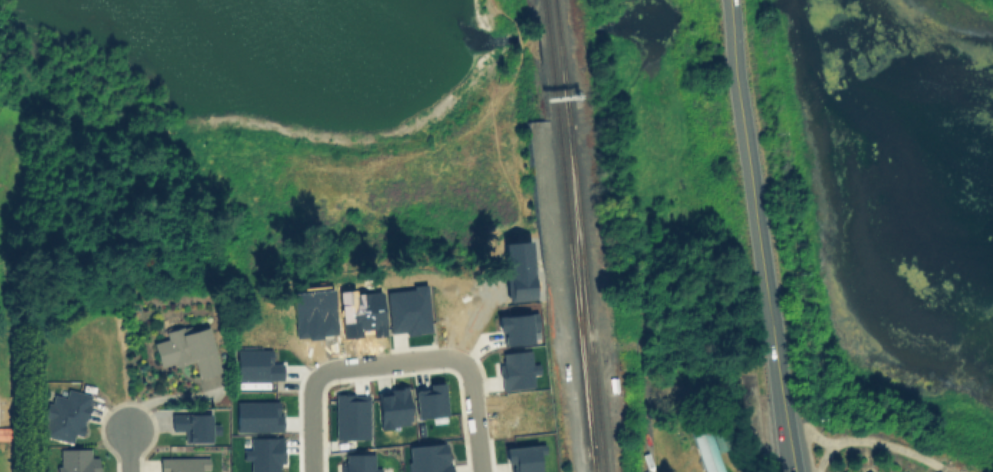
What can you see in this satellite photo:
railway: (543, 3)
railway: (553, 3)
railway: (561, 64)
railway: (568, 227)
road: (757, 236)
building: (517, 271)
railway: (579, 287)
building: (451, 294)
railway: (585, 298)
building: (407, 310)
building: (359, 312)
building: (313, 313)
building: (516, 327)
building: (187, 349)
road: (389, 362)
building: (255, 365)
building: (515, 370)
railway: (615, 377)
building: (429, 400)
building: (392, 408)
building: (65, 416)
building: (257, 416)
building: (351, 416)
road: (473, 417)
building: (519, 418)
road: (310, 424)
building: (192, 426)
building: (6, 433)
building: (720, 436)
road: (877, 440)
building: (705, 449)
road: (127, 452)
building: (264, 454)
building: (428, 458)
building: (522, 458)
building: (76, 460)
railway: (593, 461)
building: (357, 463)
building: (183, 464)
building: (728, 471)
building: (868, 471)

